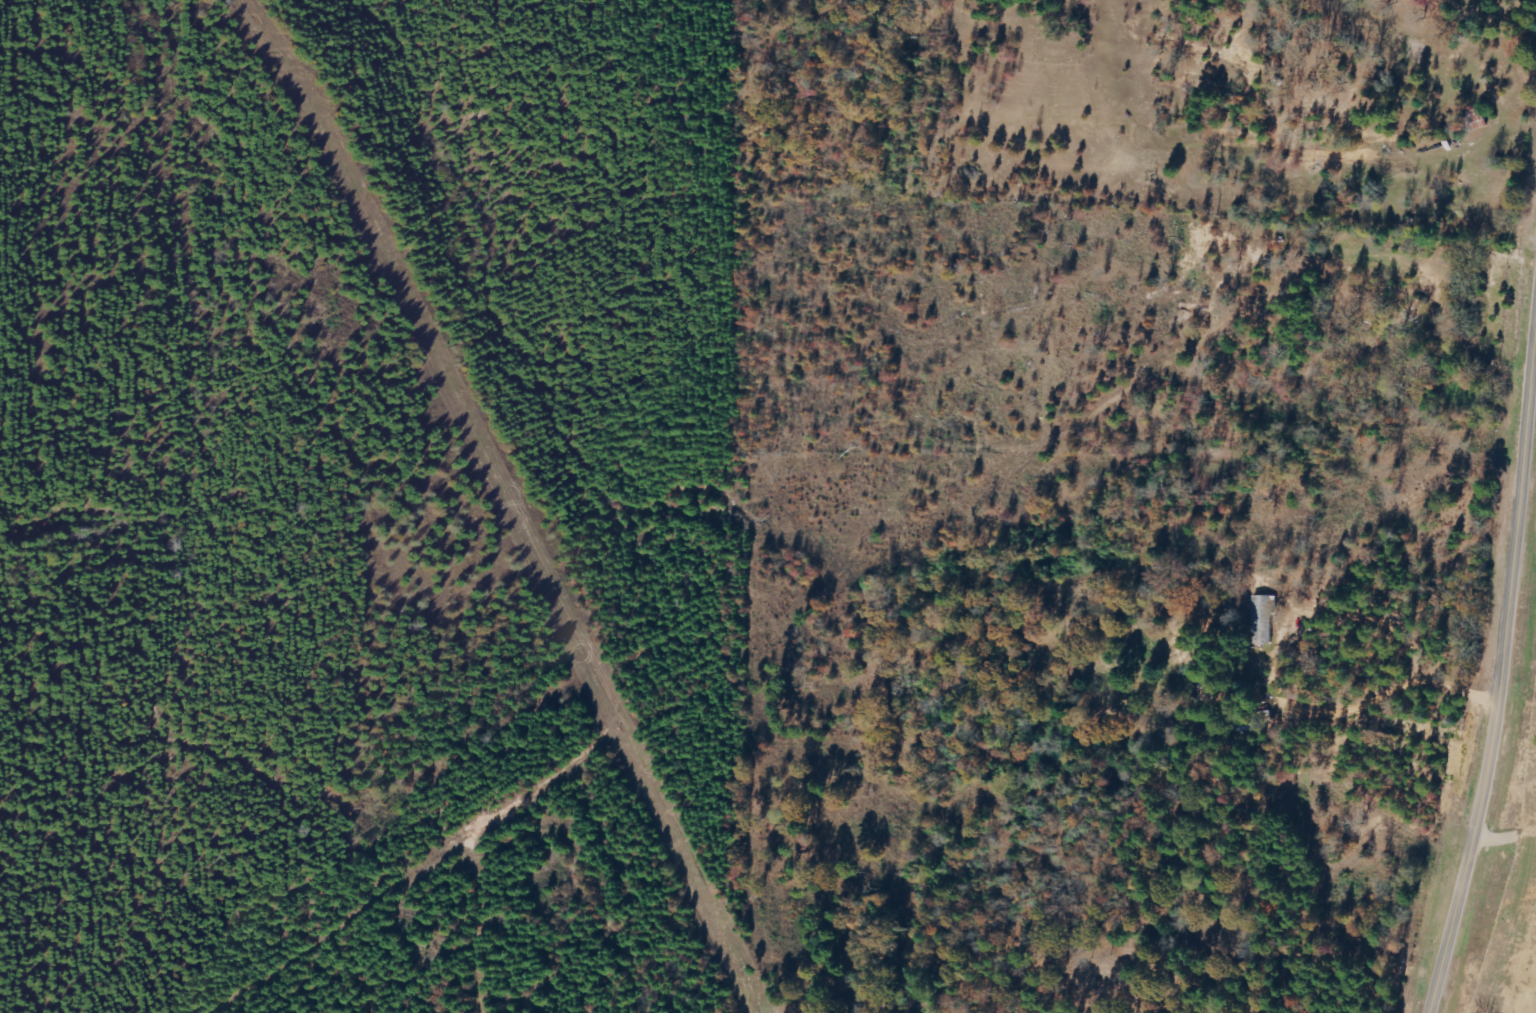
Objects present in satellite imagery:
road: (1328, 6)
road: (1462, 10)
road: (1143, 309)
building: (1265, 620)
road: (1500, 673)
road: (625, 800)

